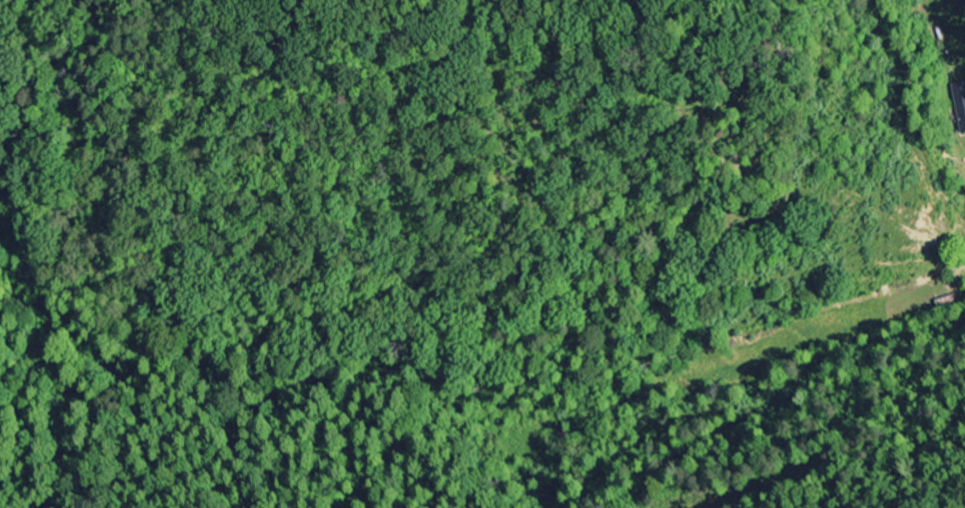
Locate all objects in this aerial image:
building: (960, 104)

